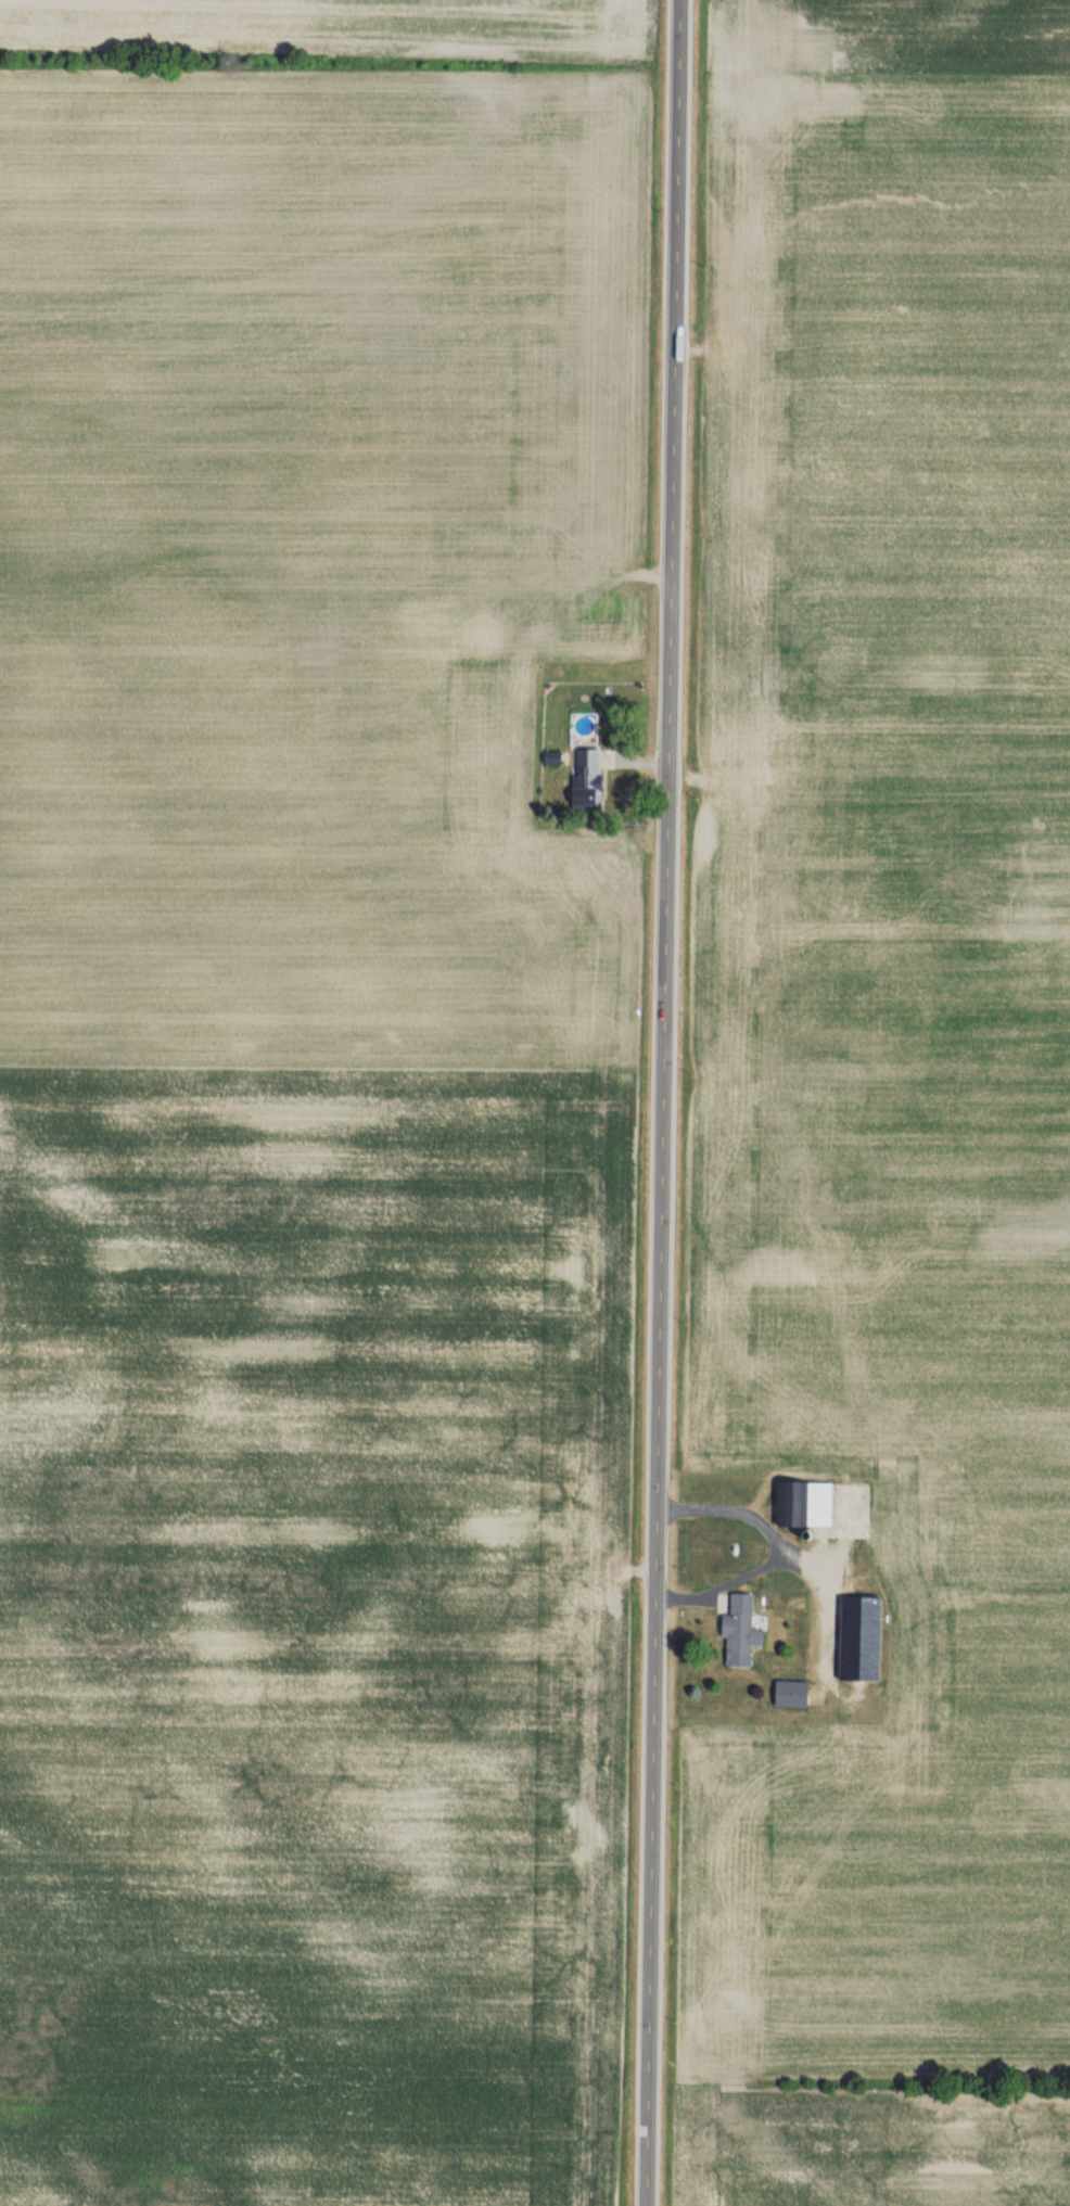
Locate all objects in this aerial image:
building: (591, 777)
road: (661, 1102)
building: (799, 1505)
building: (734, 1631)
building: (853, 1638)
building: (784, 1694)

